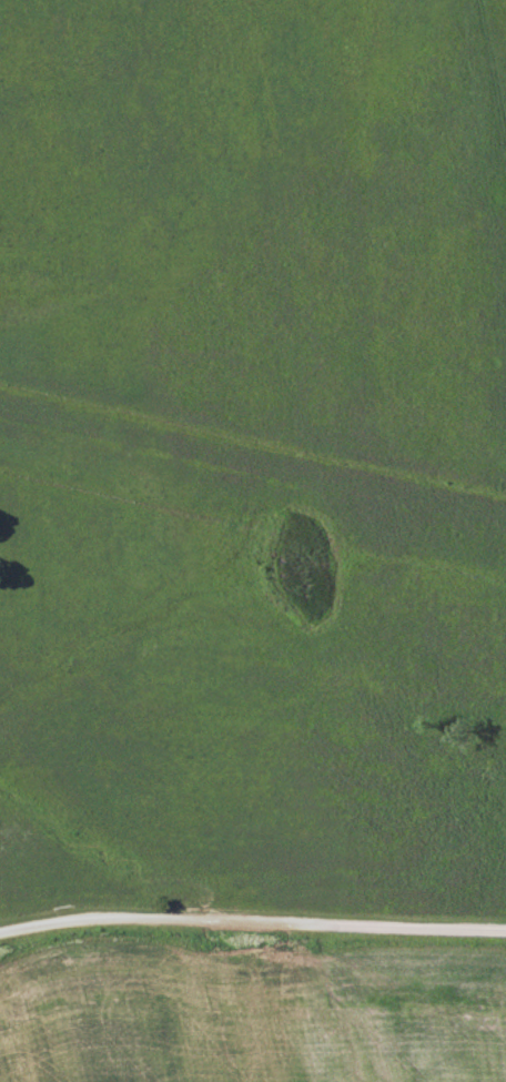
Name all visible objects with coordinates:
road: (252, 922)

